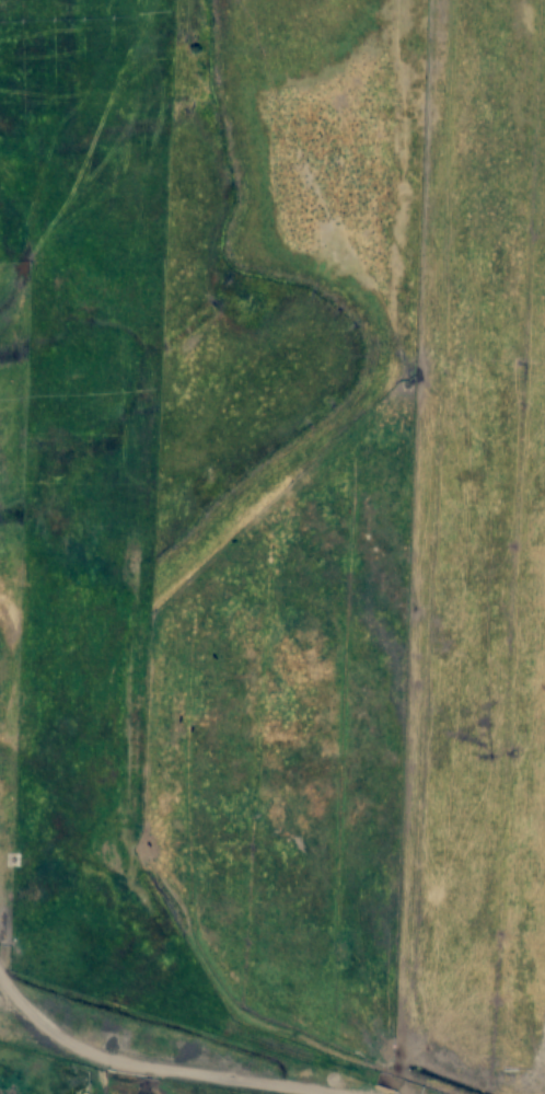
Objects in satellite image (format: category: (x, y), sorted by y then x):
road: (113, 1053)

